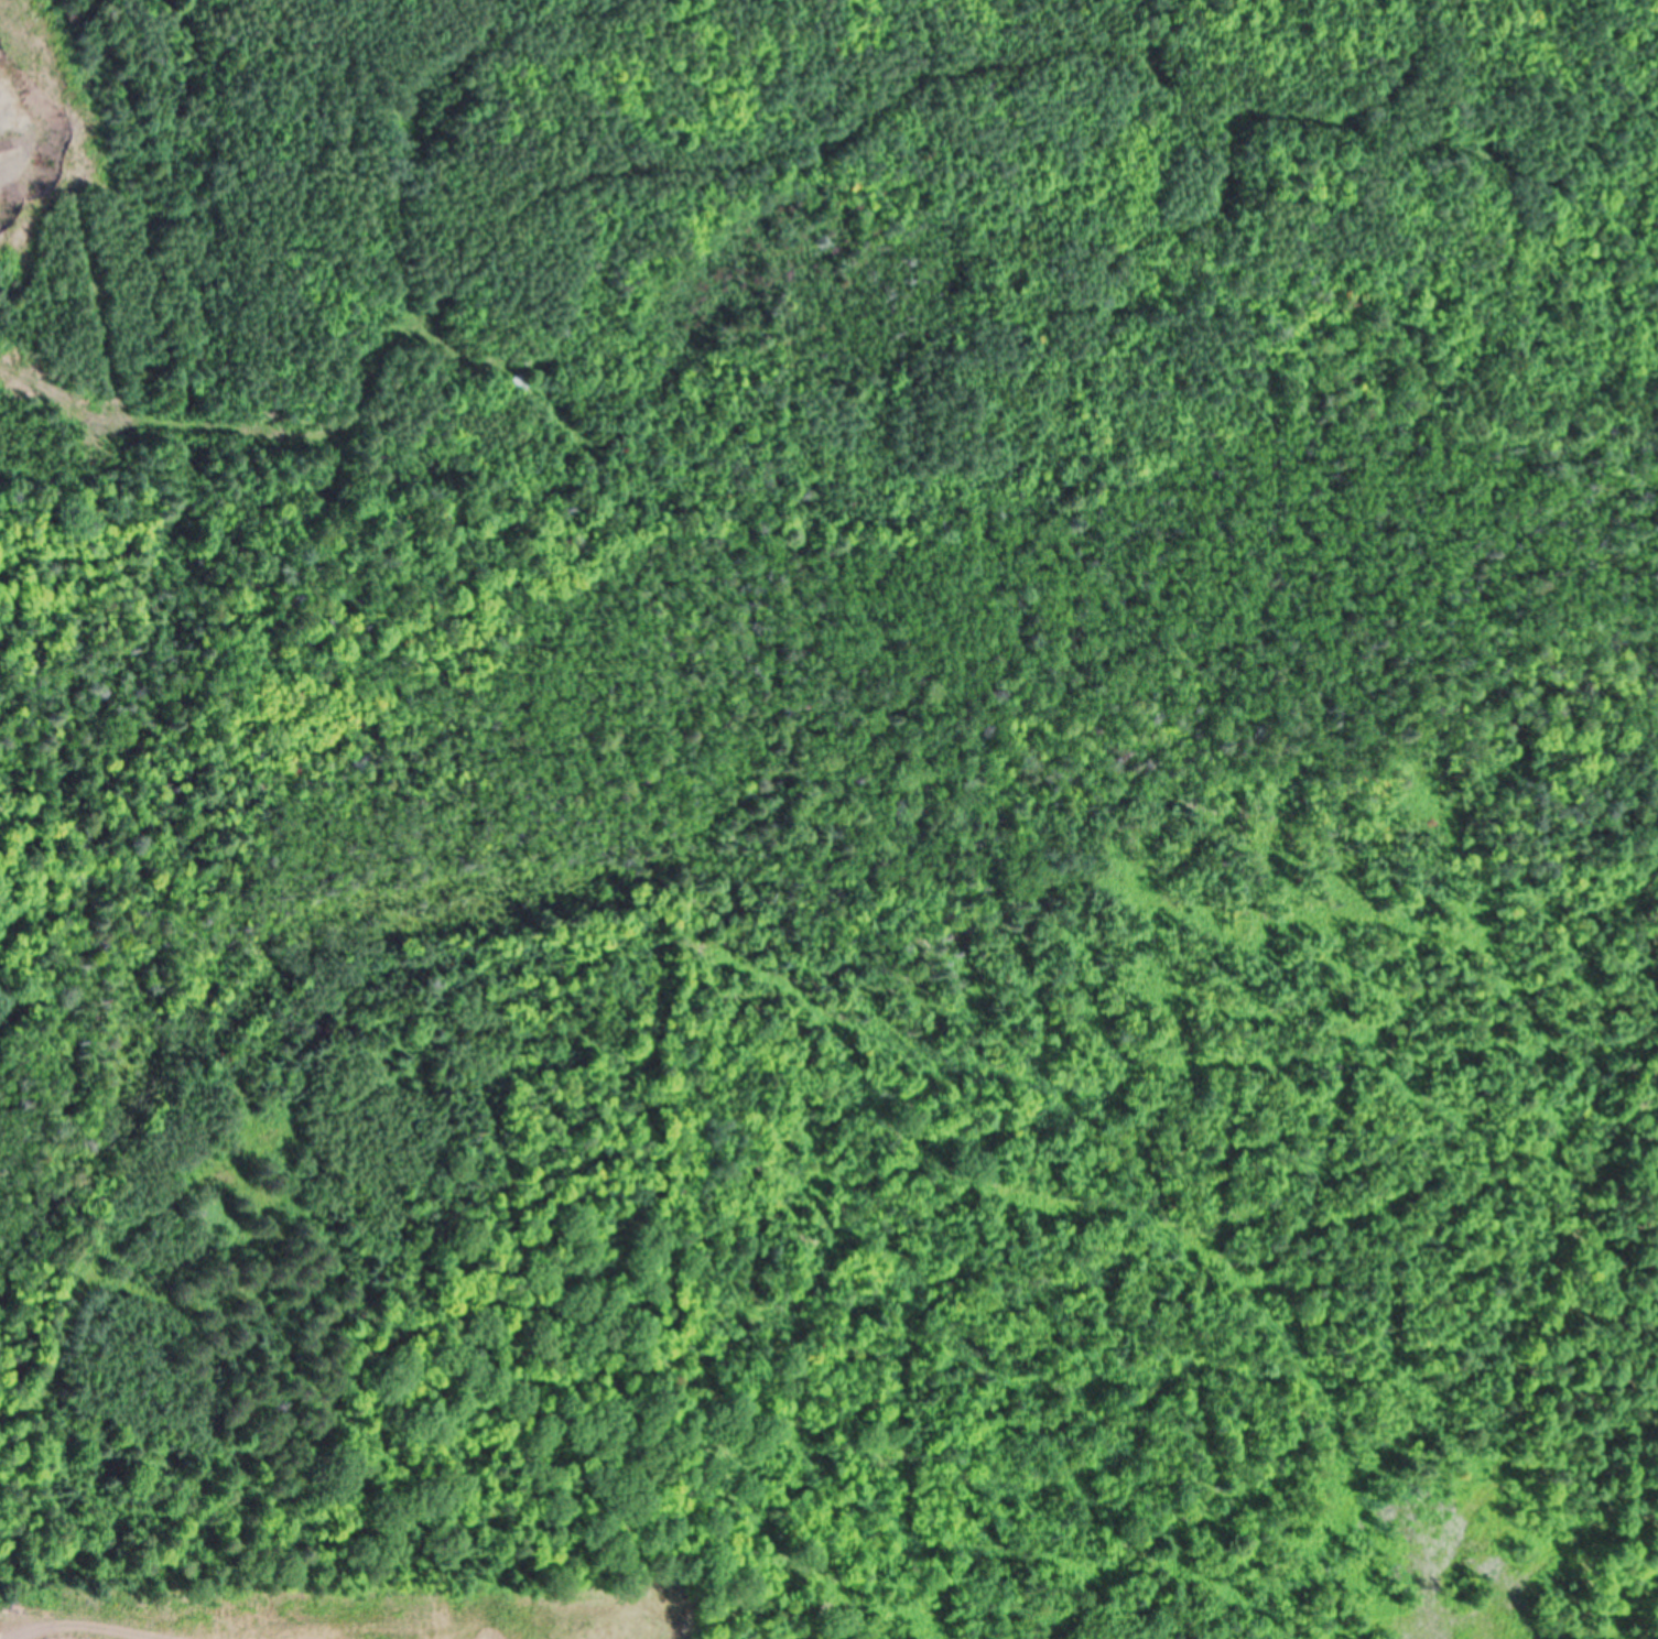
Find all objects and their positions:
quarry: (350, 1608)

